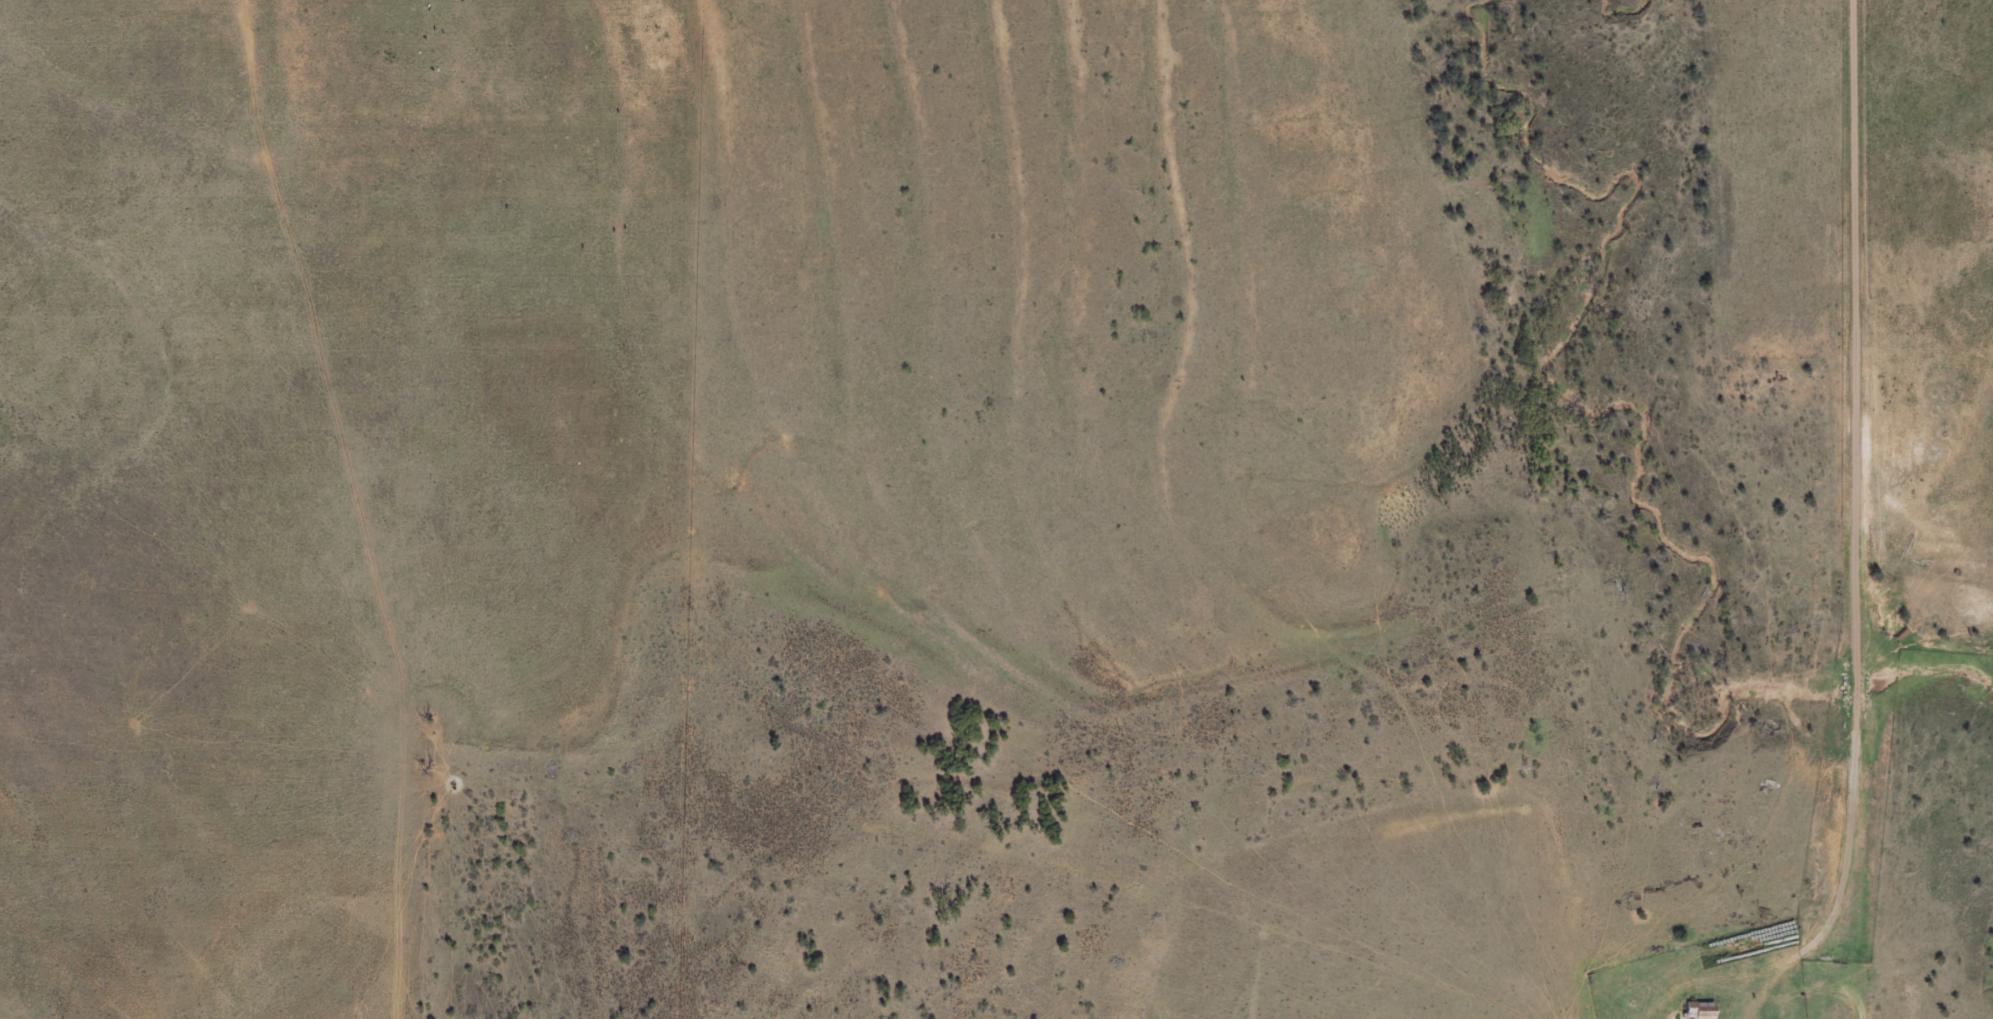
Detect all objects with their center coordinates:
road: (1858, 509)
road: (1822, 939)
building: (1702, 1011)

